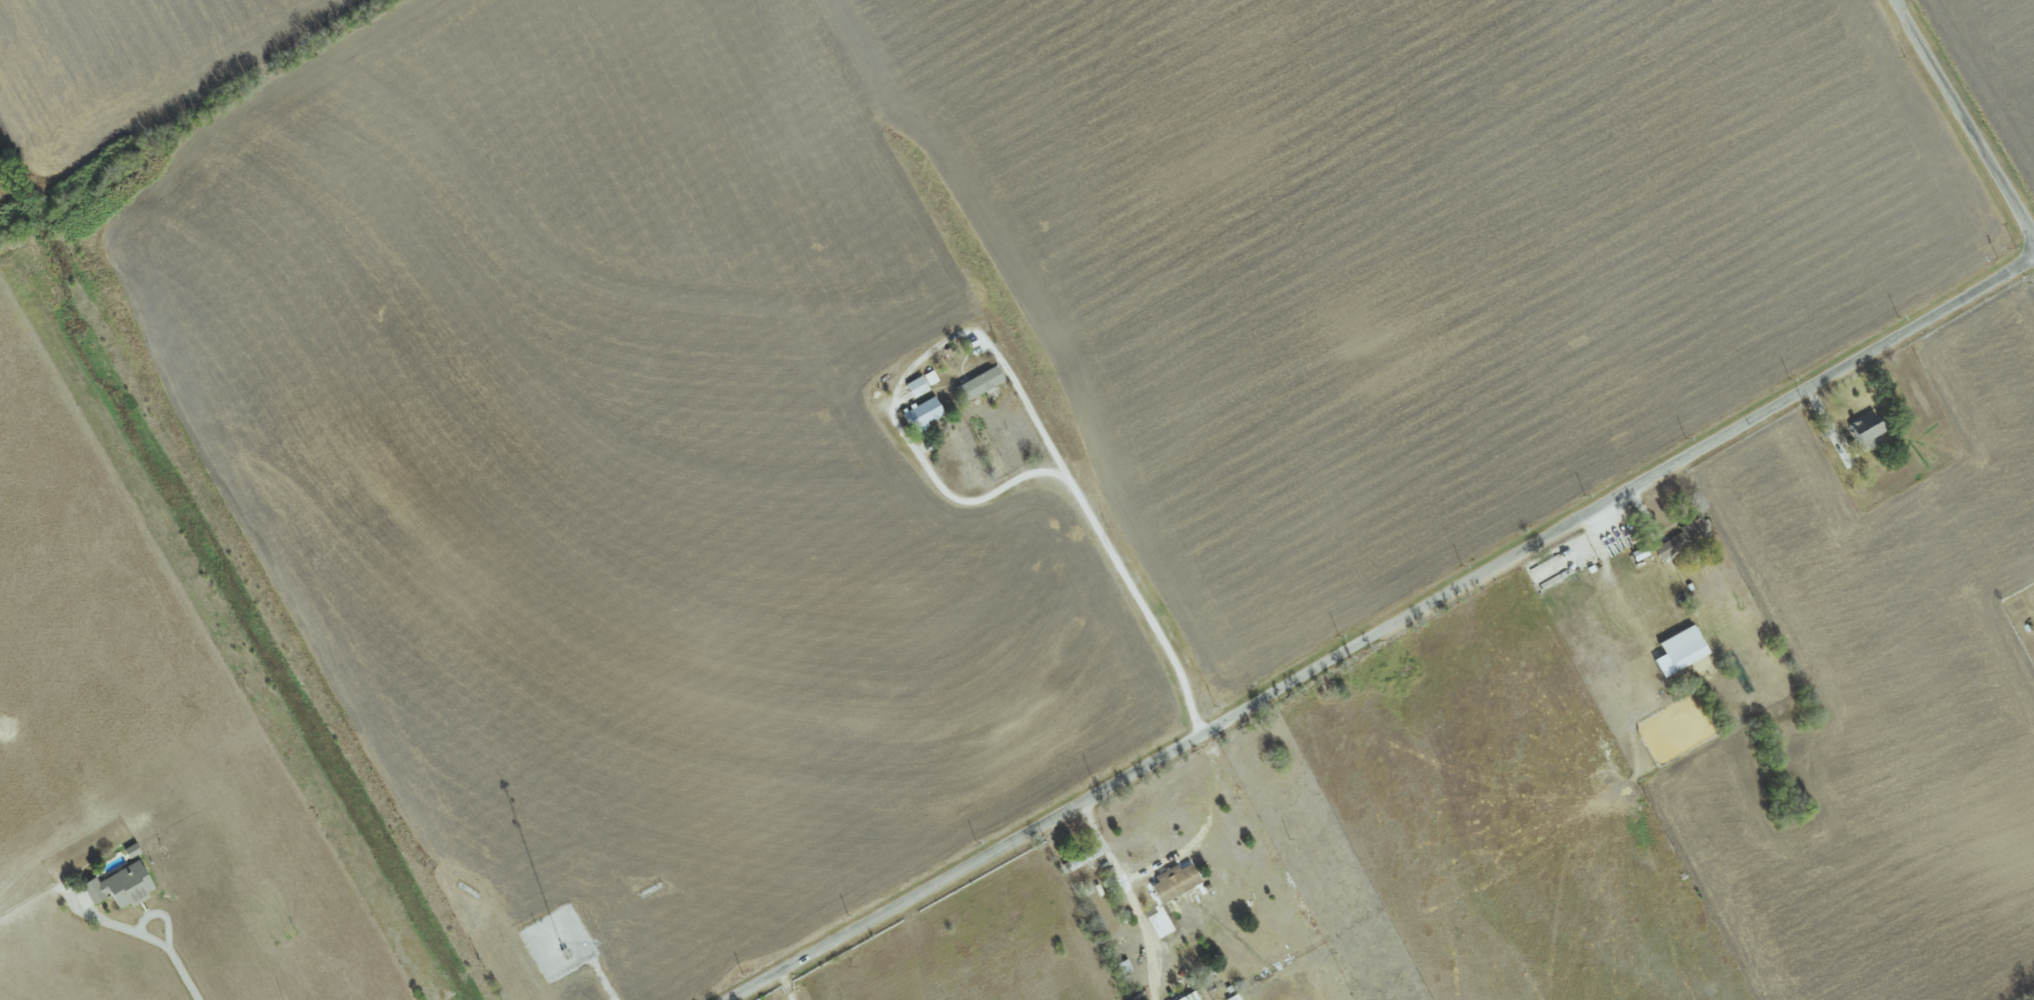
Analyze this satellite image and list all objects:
road: (1965, 115)
road: (1008, 375)
building: (976, 384)
building: (914, 387)
building: (920, 415)
building: (1864, 432)
building: (1681, 538)
road: (1383, 630)
building: (1677, 650)
road: (1123, 883)
building: (1172, 883)
building: (119, 886)
road: (156, 941)
road: (788, 985)
building: (1187, 997)

